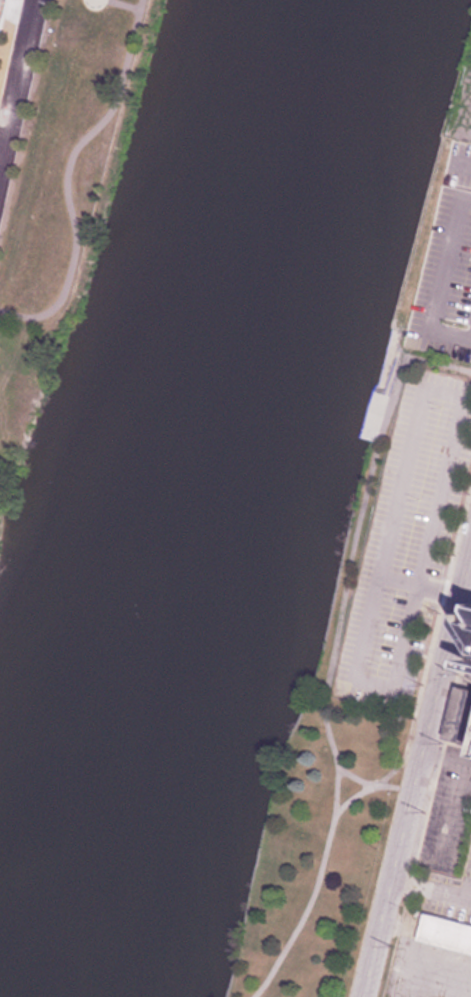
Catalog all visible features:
parking lot: (1, 7)
road: (15, 7)
road: (17, 59)
road: (458, 247)
parking lot: (446, 250)
road: (438, 274)
river: (193, 499)
parking lot: (407, 538)
road: (428, 539)
building: (470, 596)
building: (468, 615)
road: (334, 649)
building: (465, 652)
road: (416, 772)
park: (331, 775)
road: (378, 781)
road: (371, 784)
building: (445, 934)

